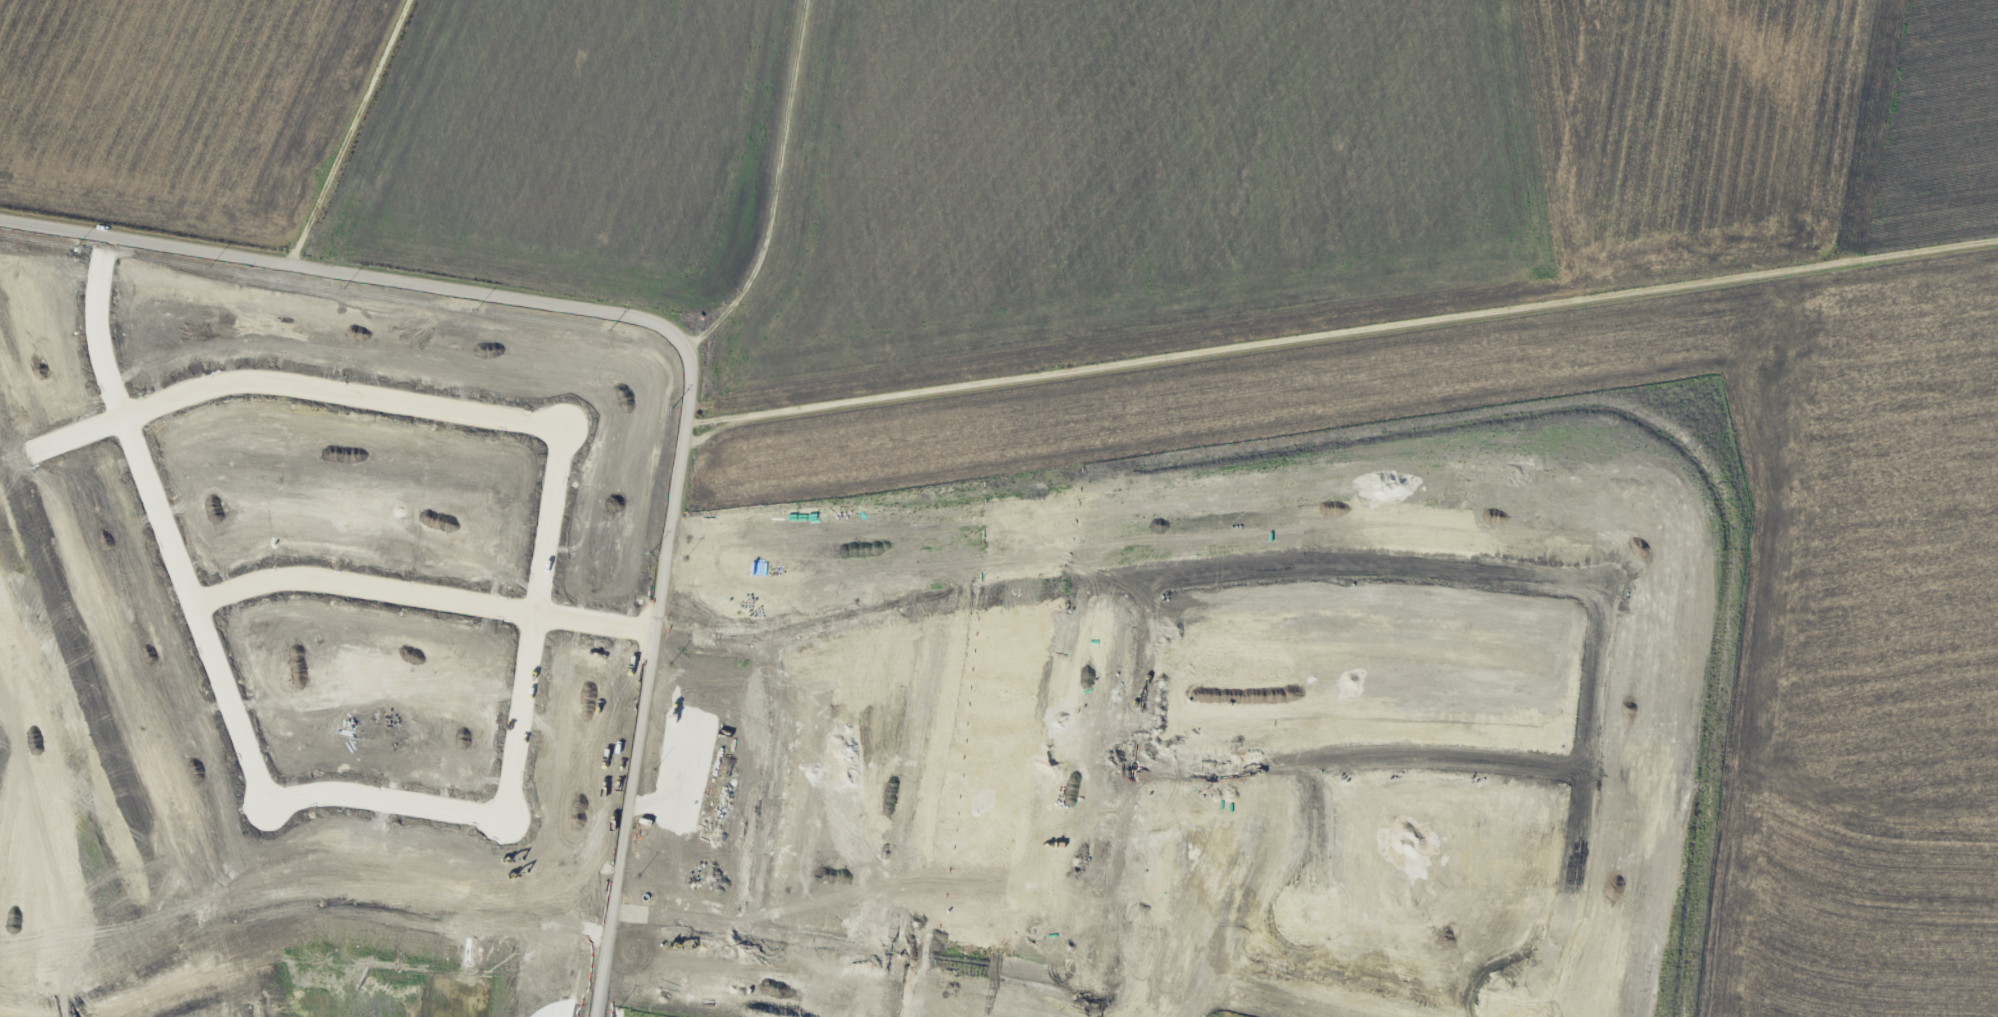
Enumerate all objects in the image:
road: (348, 132)
road: (770, 186)
road: (1341, 332)
road: (679, 337)
road: (294, 386)
road: (163, 524)
road: (422, 596)
road: (533, 623)
road: (385, 800)

